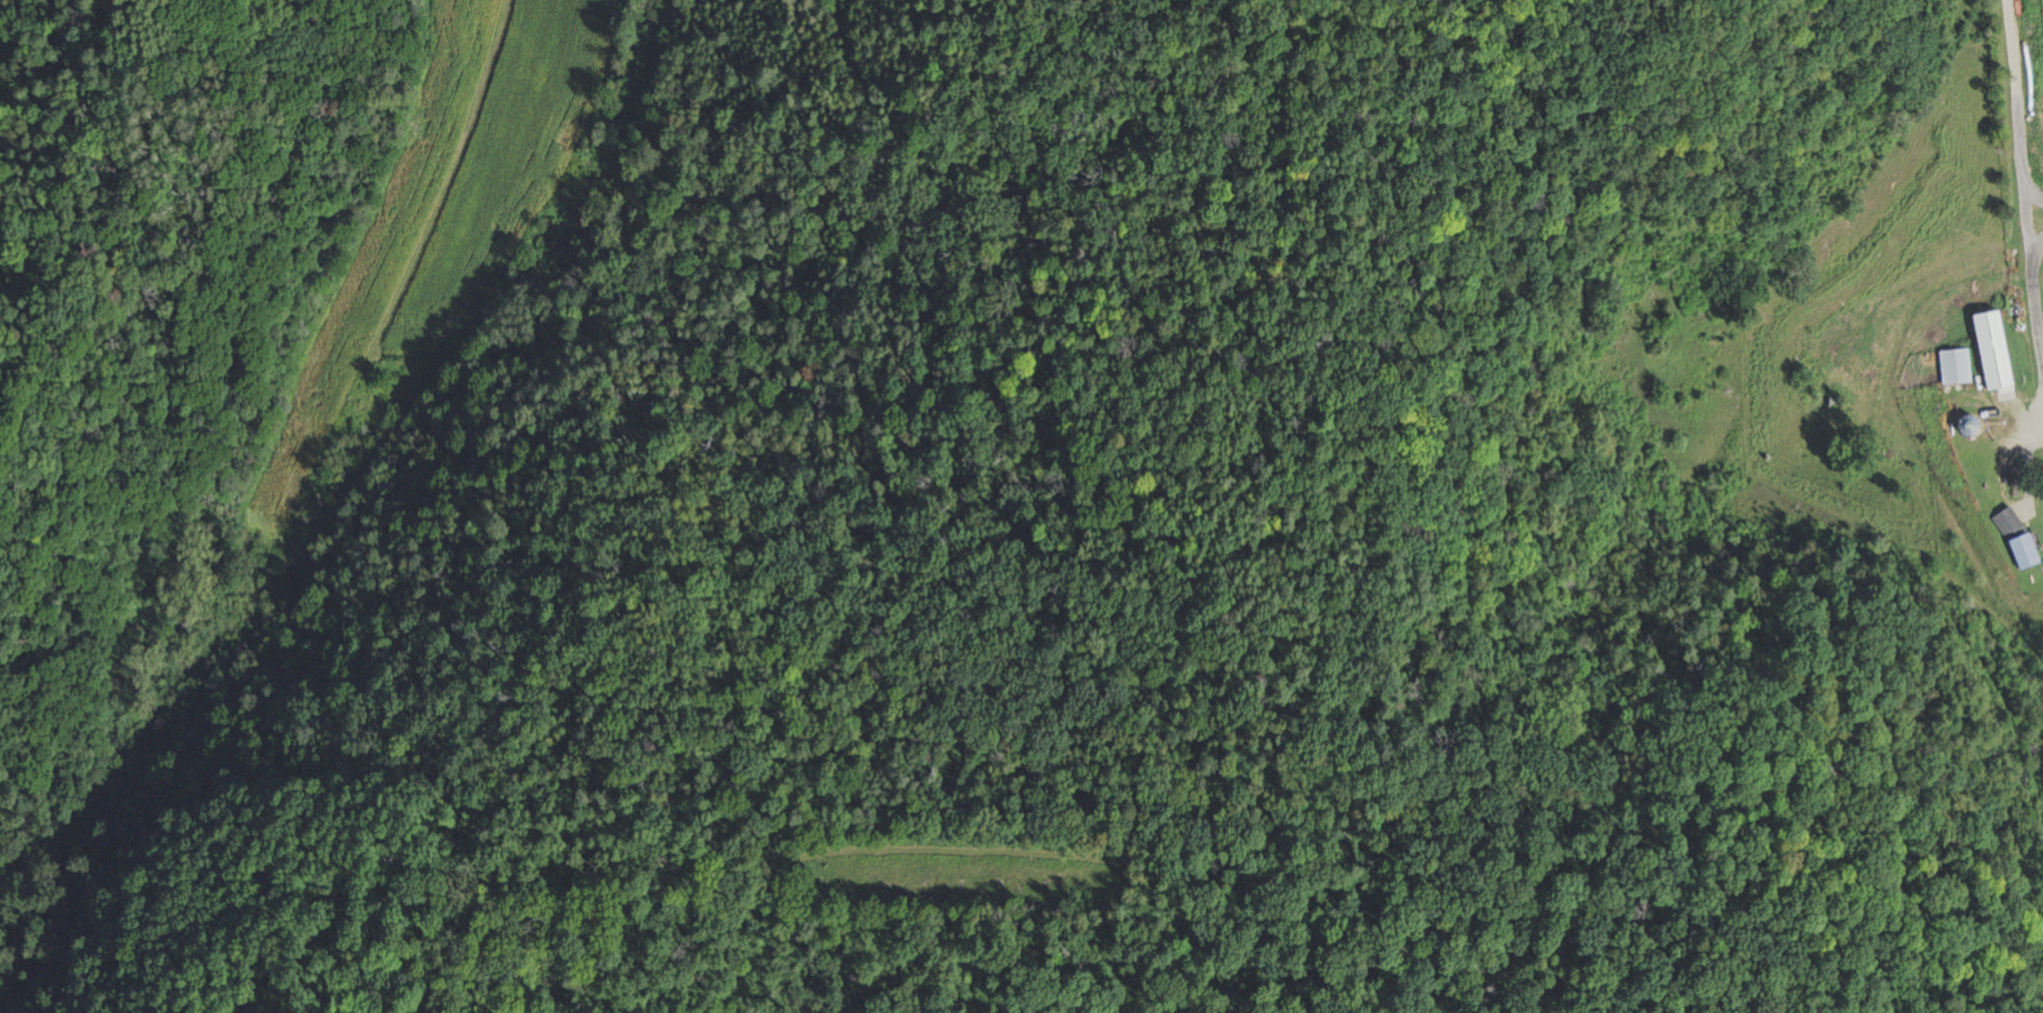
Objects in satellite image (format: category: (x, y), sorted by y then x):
road: (2014, 113)
road: (2033, 227)
road: (2032, 305)
building: (1989, 350)
building: (1953, 367)
building: (2006, 523)
building: (2022, 552)

